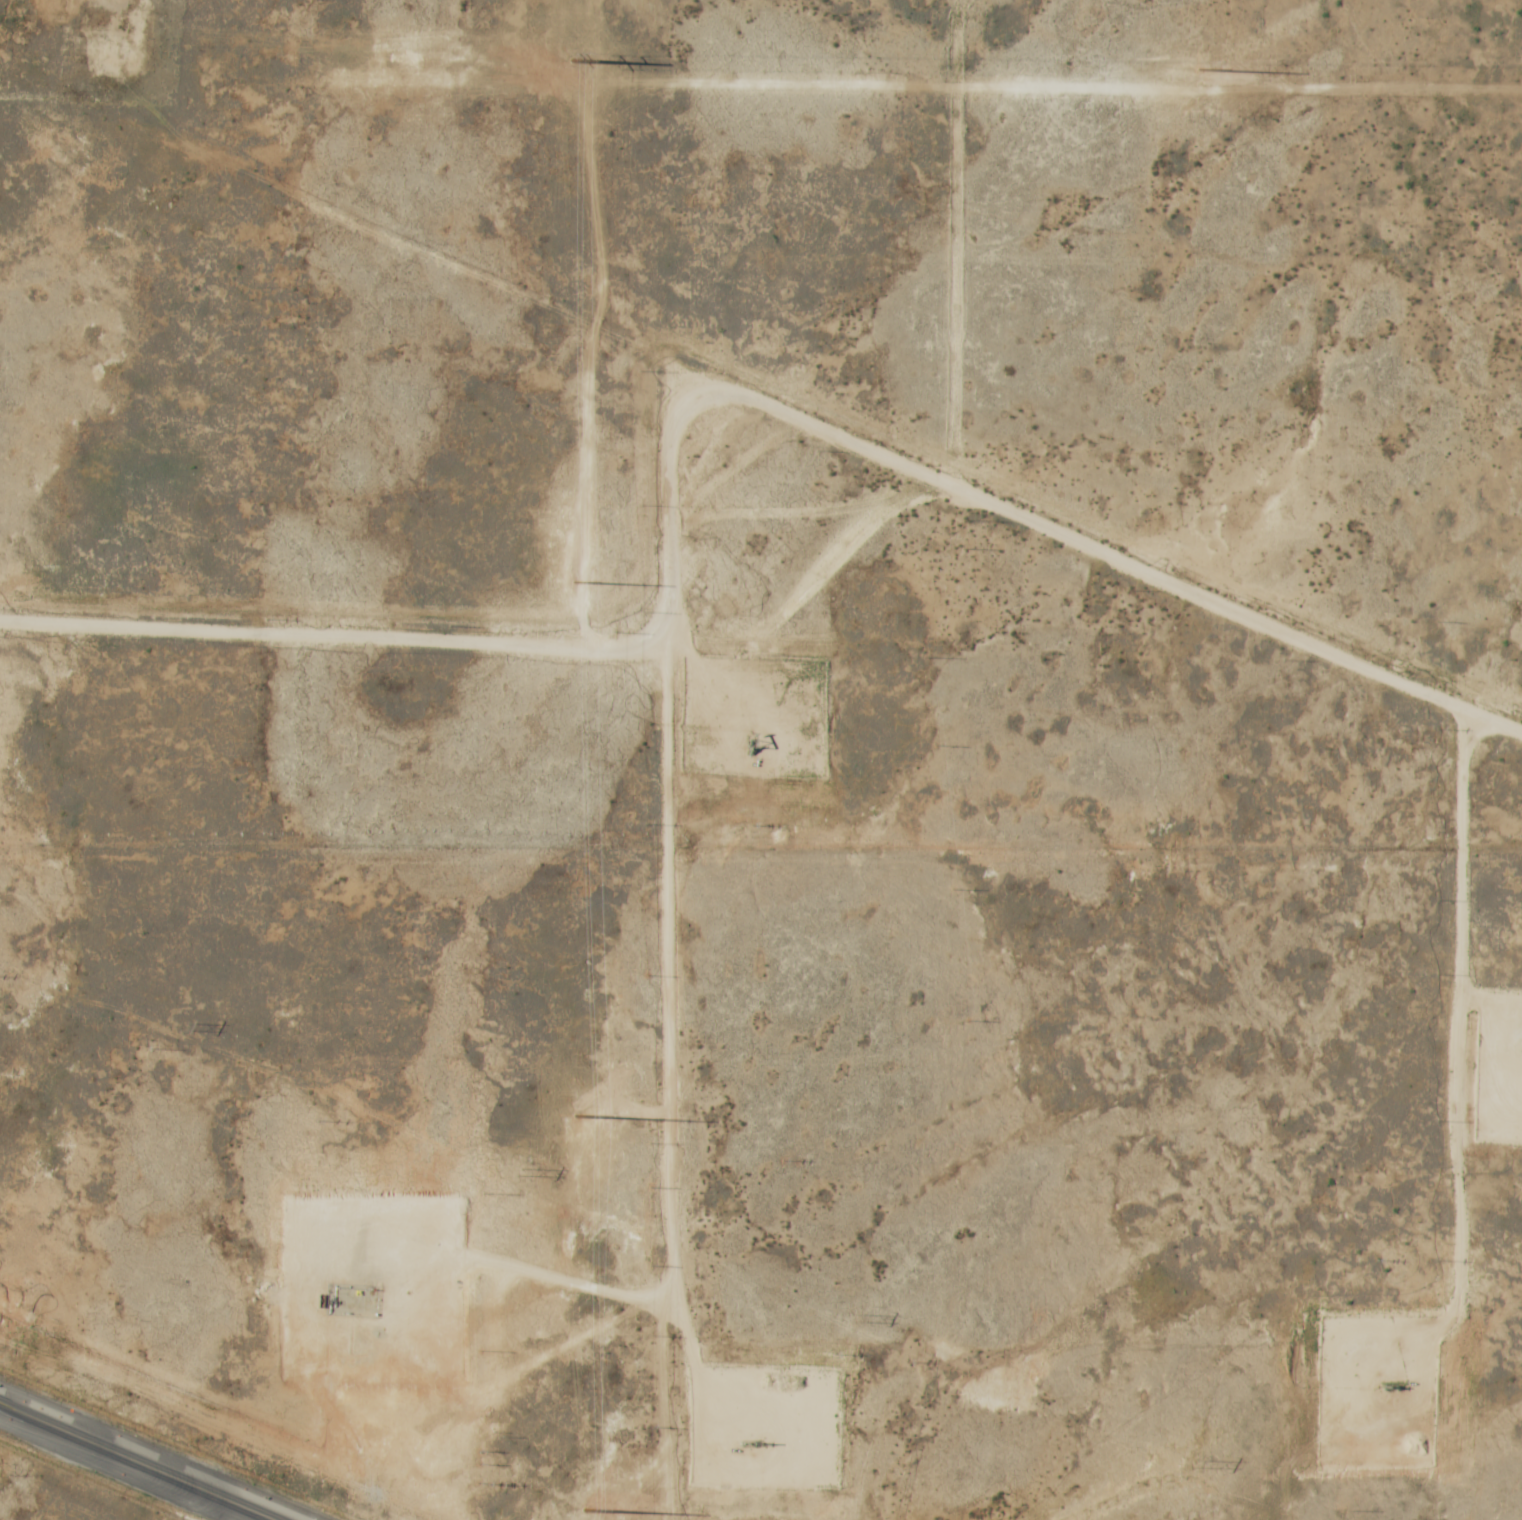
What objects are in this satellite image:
road: (1133, 546)
road: (488, 641)
road: (667, 1016)
power tower: (185, 1026)
road: (1466, 1036)
power tower: (520, 1172)
power tower: (859, 1317)
road: (134, 1462)
power tower: (1194, 1463)

